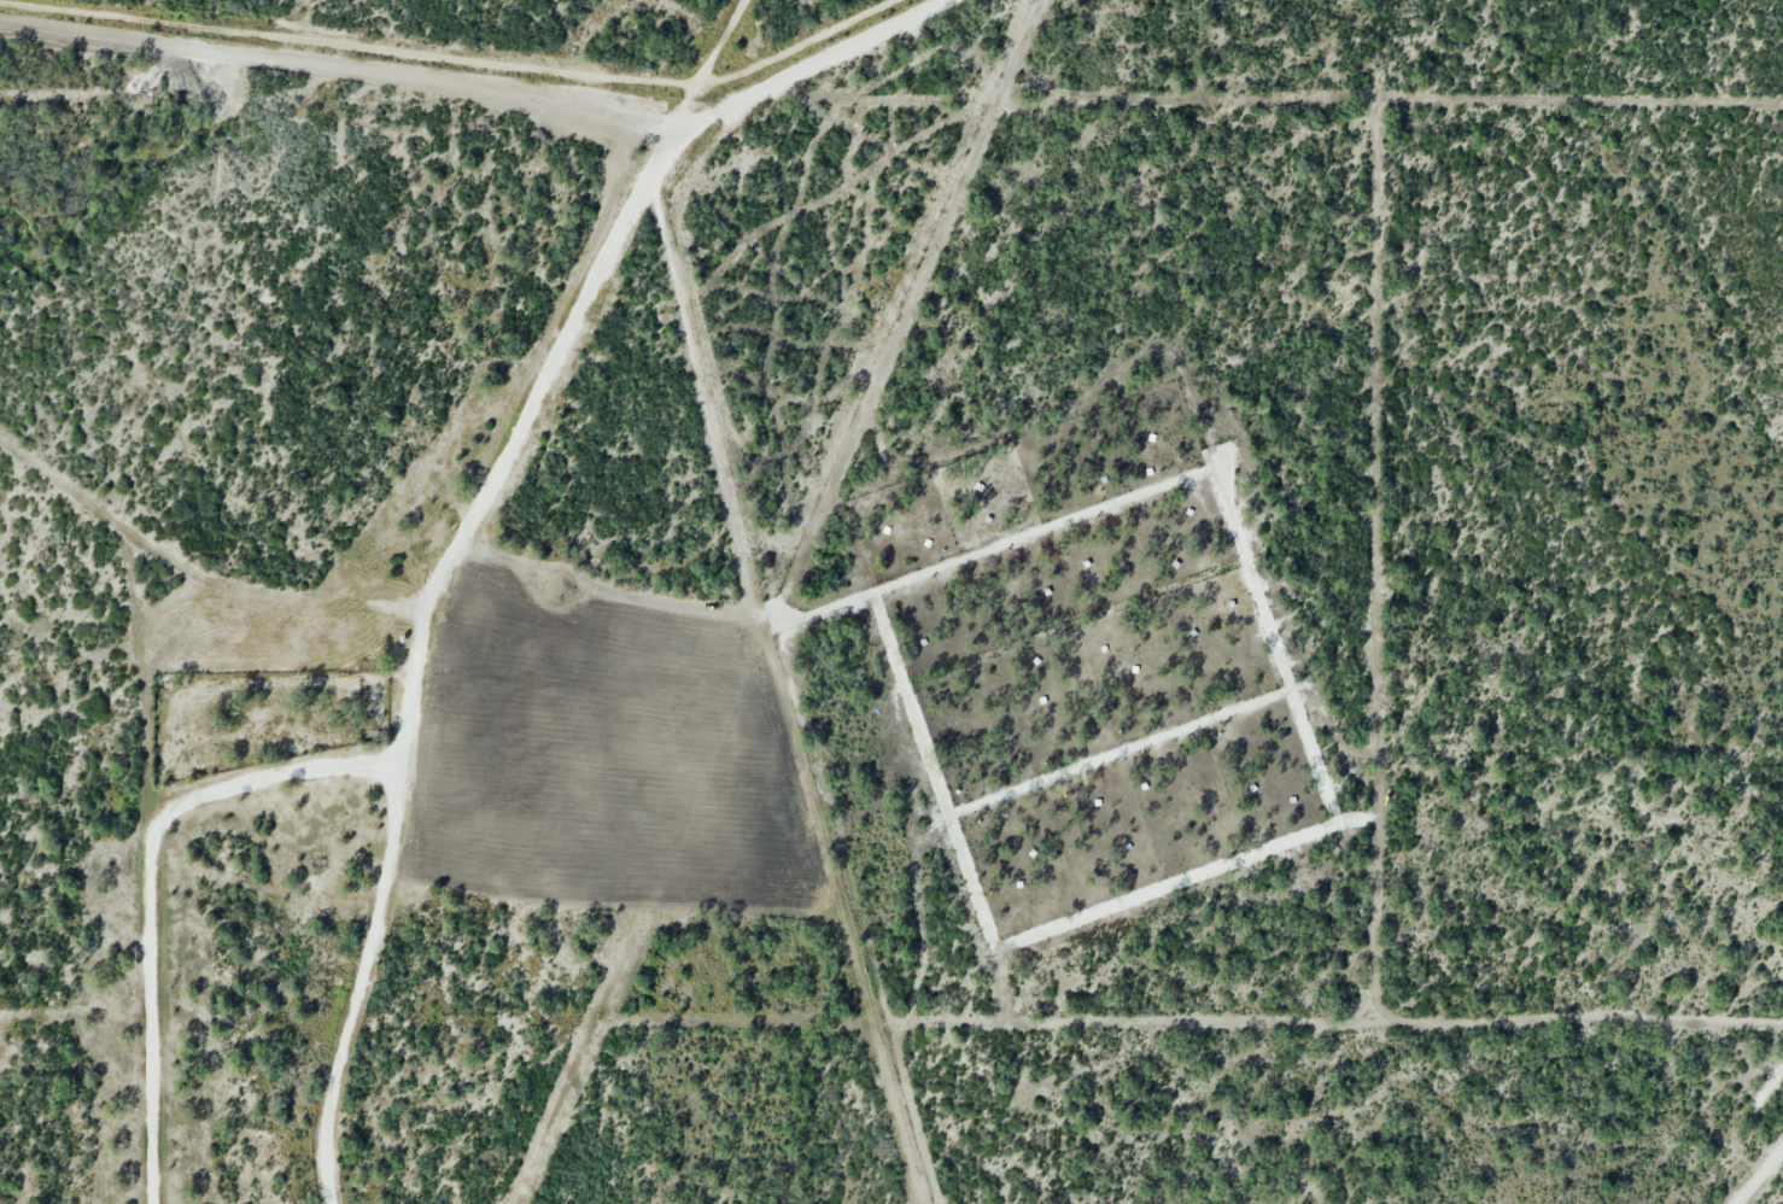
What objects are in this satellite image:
road: (312, 775)

